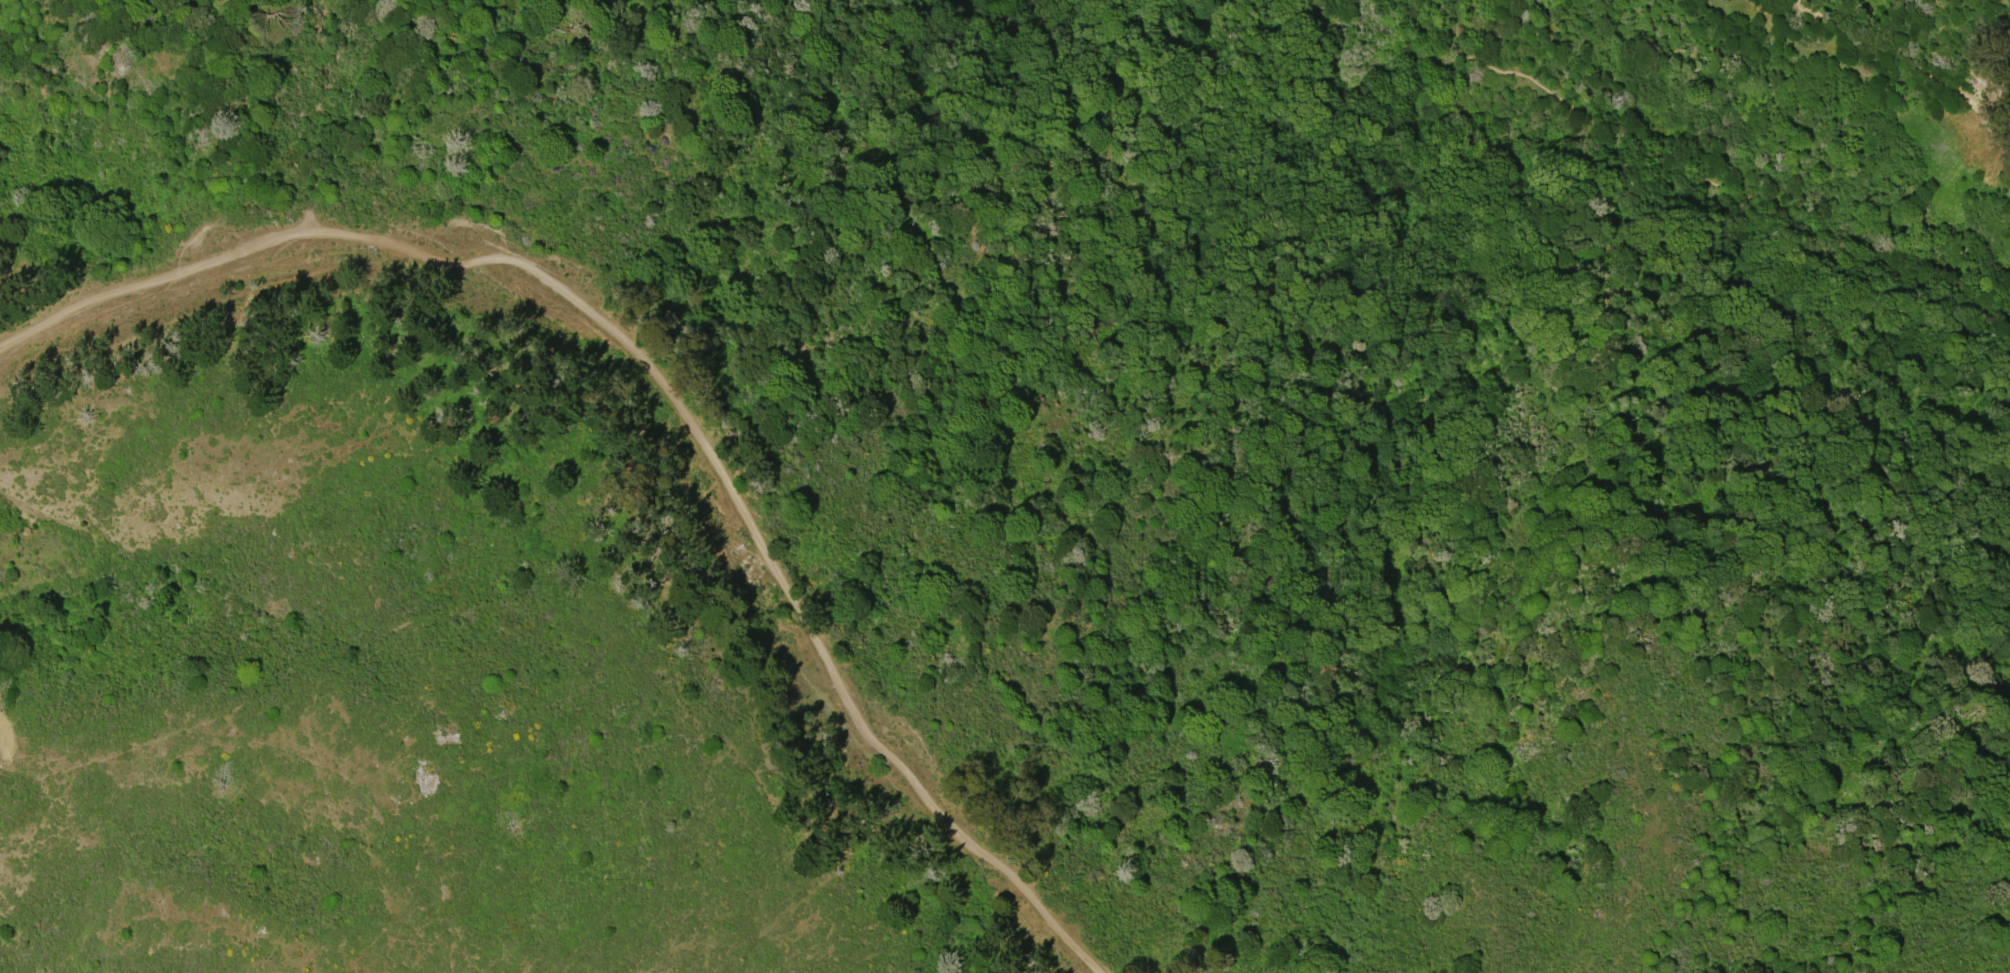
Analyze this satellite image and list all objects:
road: (1916, 67)
road: (1689, 176)
power tower: (1947, 215)
road: (662, 386)

